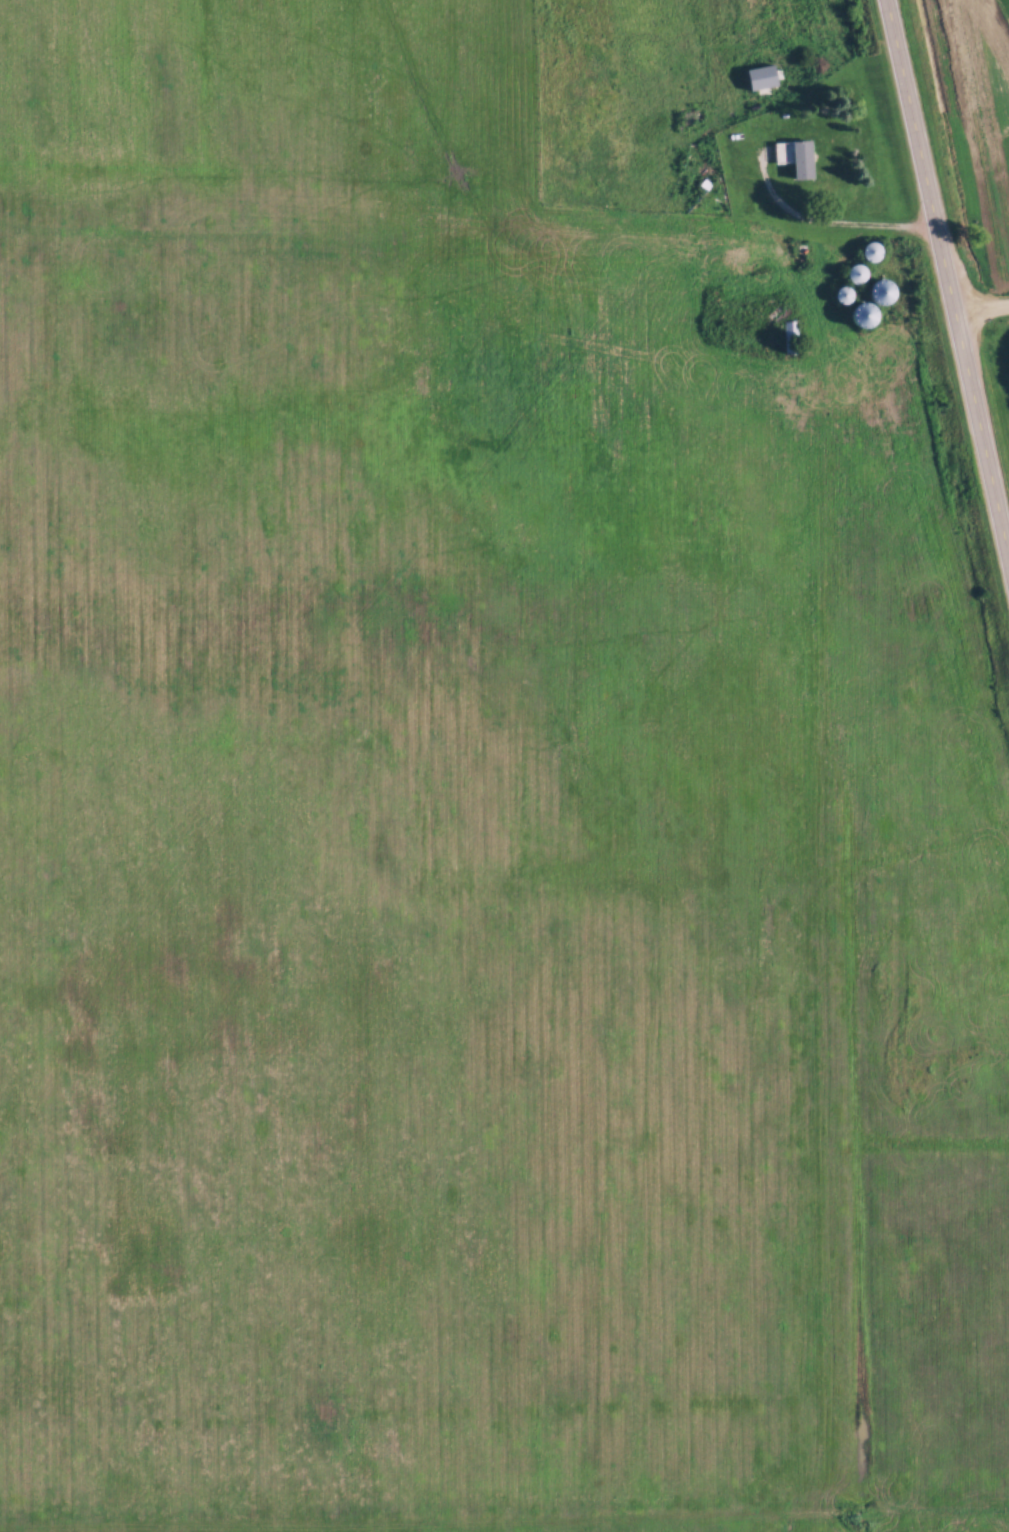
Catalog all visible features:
building: (797, 156)
road: (831, 223)
building: (874, 251)
road: (948, 270)
building: (857, 272)
building: (883, 292)
road: (982, 304)
building: (865, 316)
building: (790, 336)

